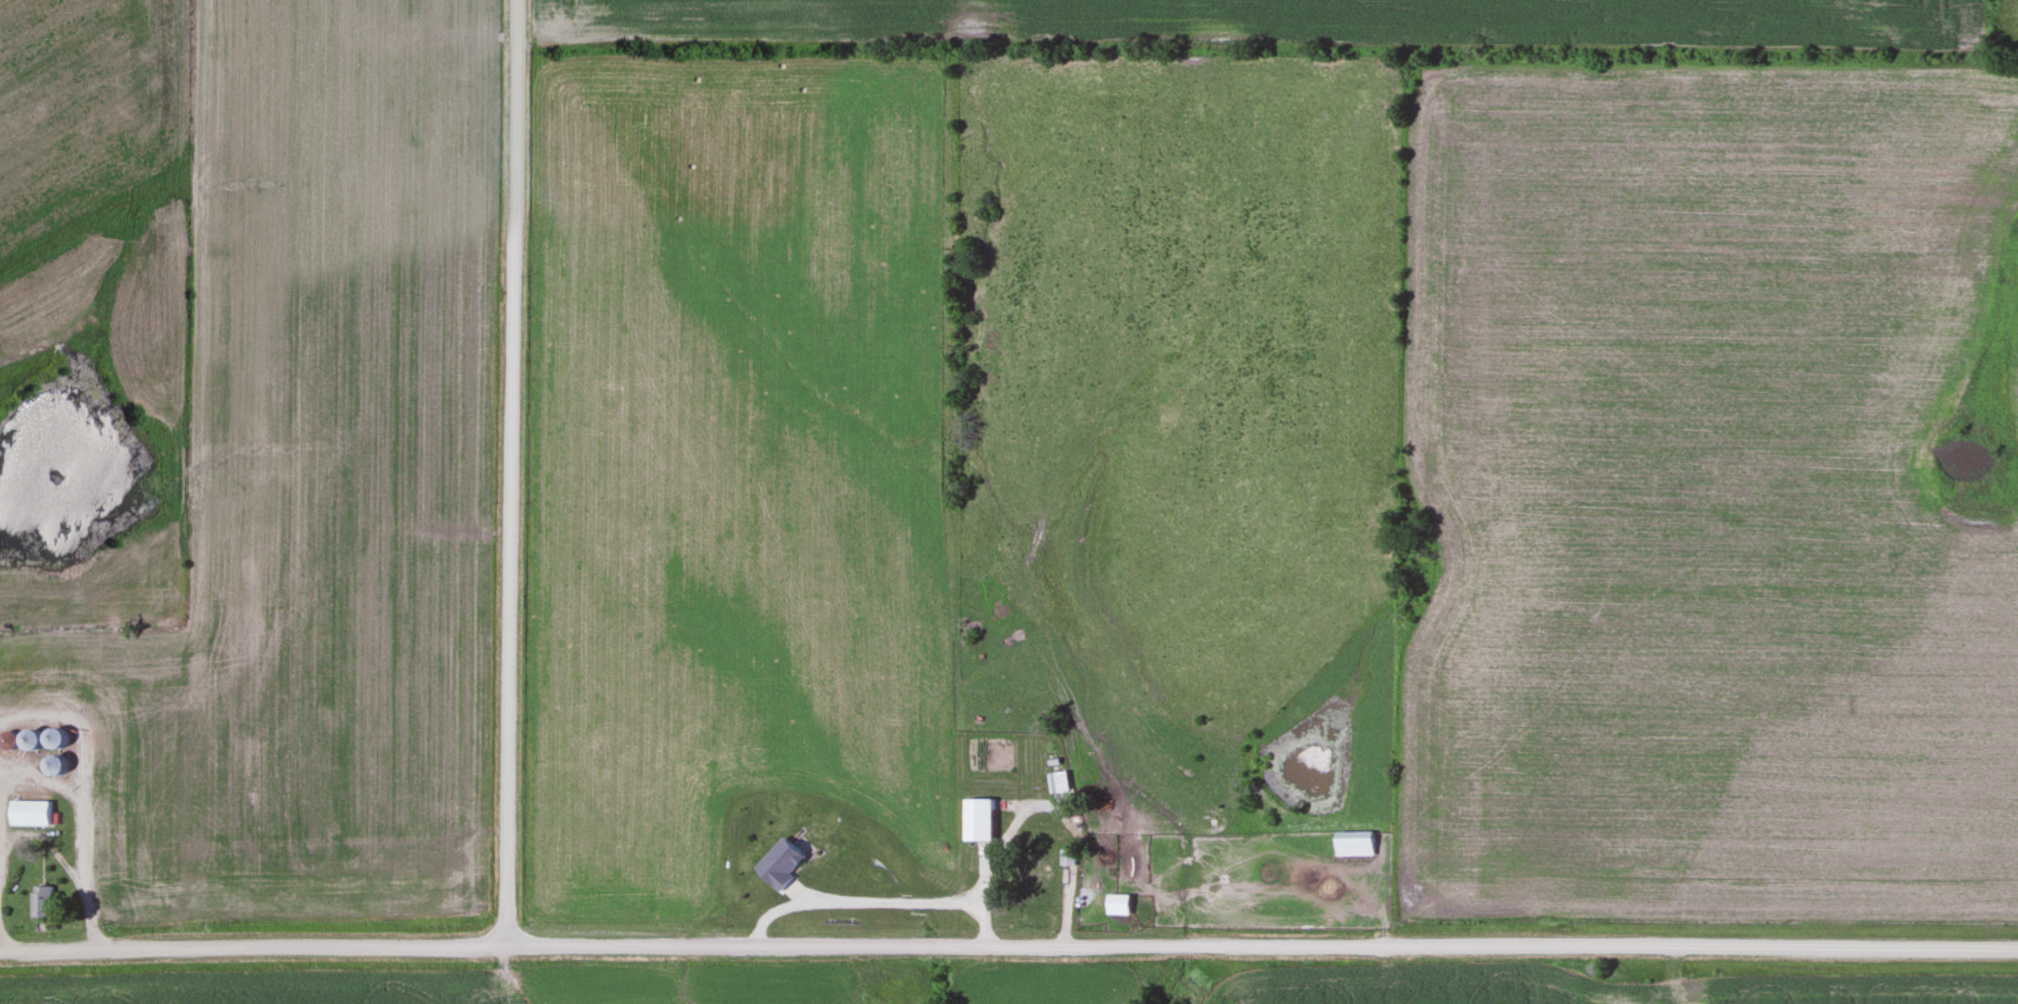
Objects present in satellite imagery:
road: (511, 472)
road: (1262, 945)
road: (253, 948)

